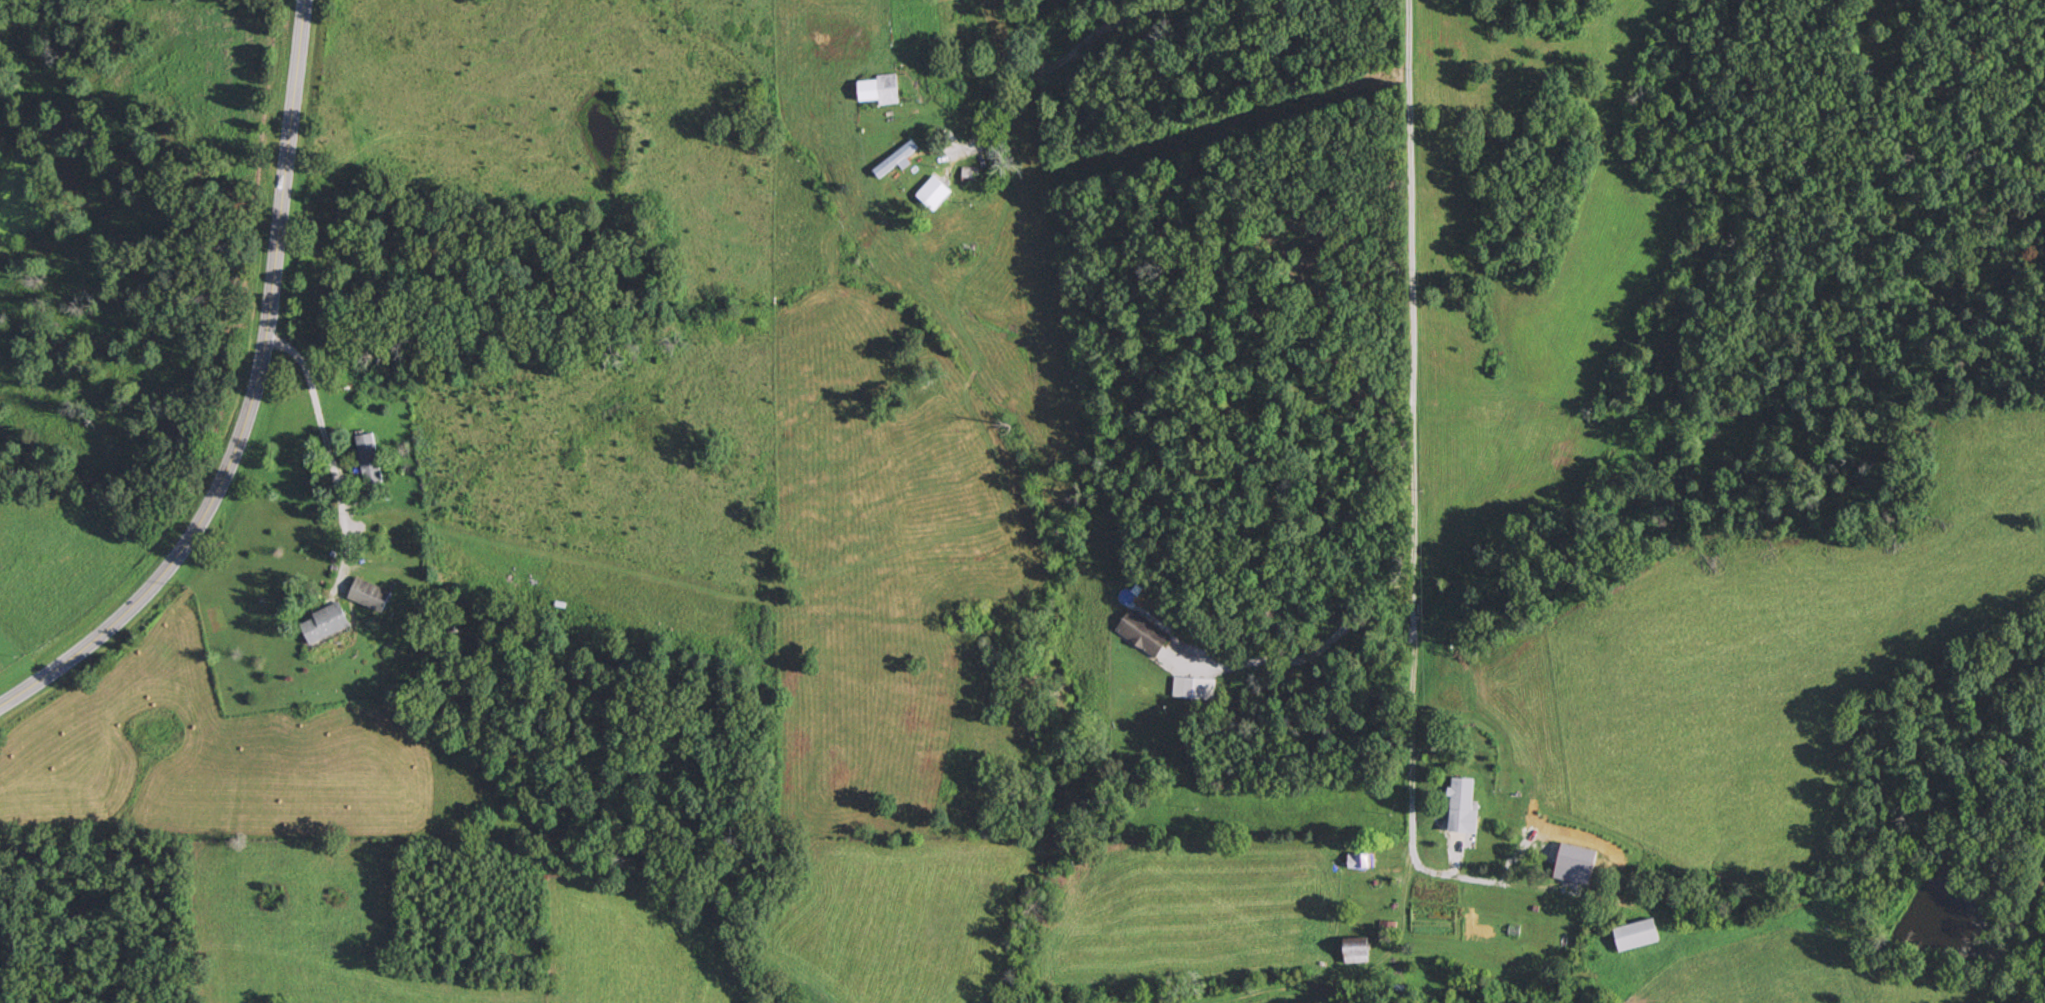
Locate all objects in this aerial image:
road: (1041, 65)
building: (880, 90)
building: (897, 159)
building: (1037, 164)
building: (970, 176)
road: (243, 403)
road: (1421, 410)
road: (322, 450)
building: (369, 459)
building: (370, 594)
building: (325, 622)
building: (1143, 633)
building: (1194, 688)
building: (1462, 793)
building: (1362, 861)
road: (1466, 881)
building: (1637, 934)
building: (1358, 951)

